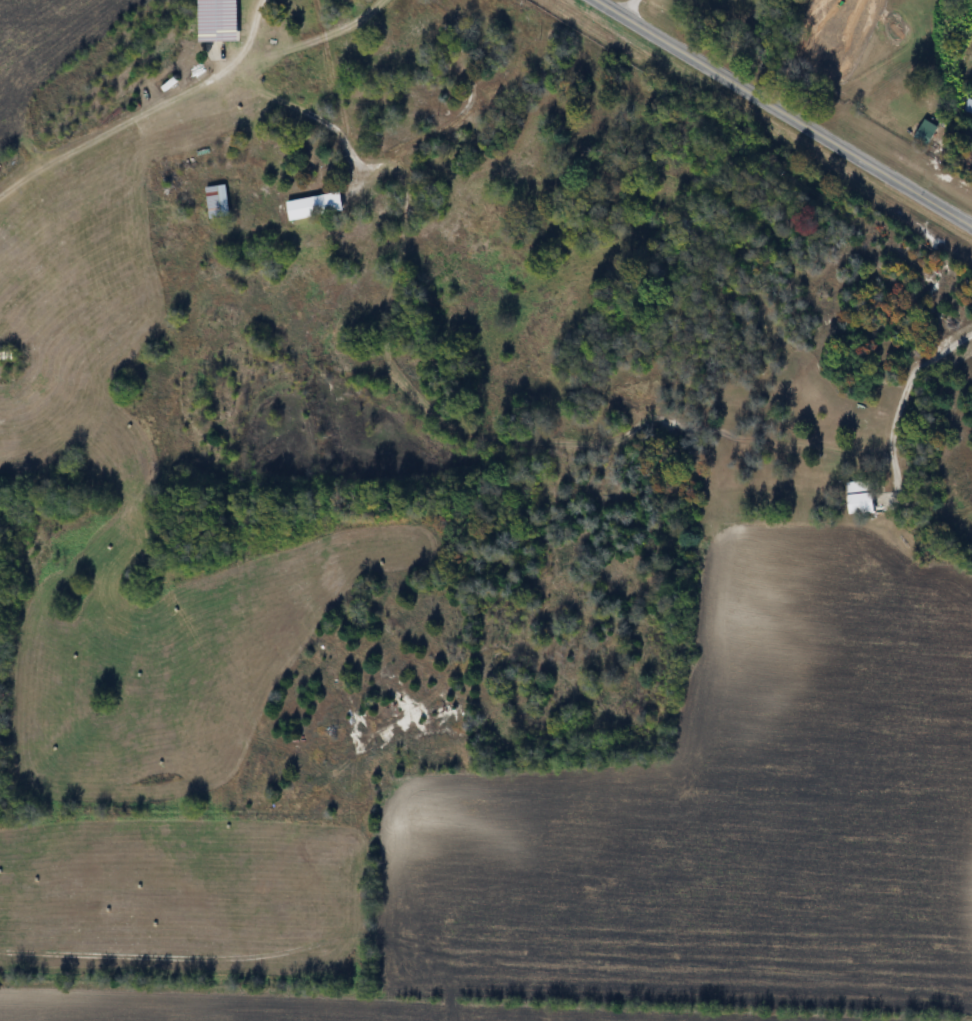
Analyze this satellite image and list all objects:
road: (632, 7)
building: (220, 25)
road: (255, 29)
road: (334, 92)
building: (969, 107)
road: (787, 111)
building: (219, 202)
building: (317, 207)
building: (7, 356)
road: (904, 396)
building: (863, 497)

